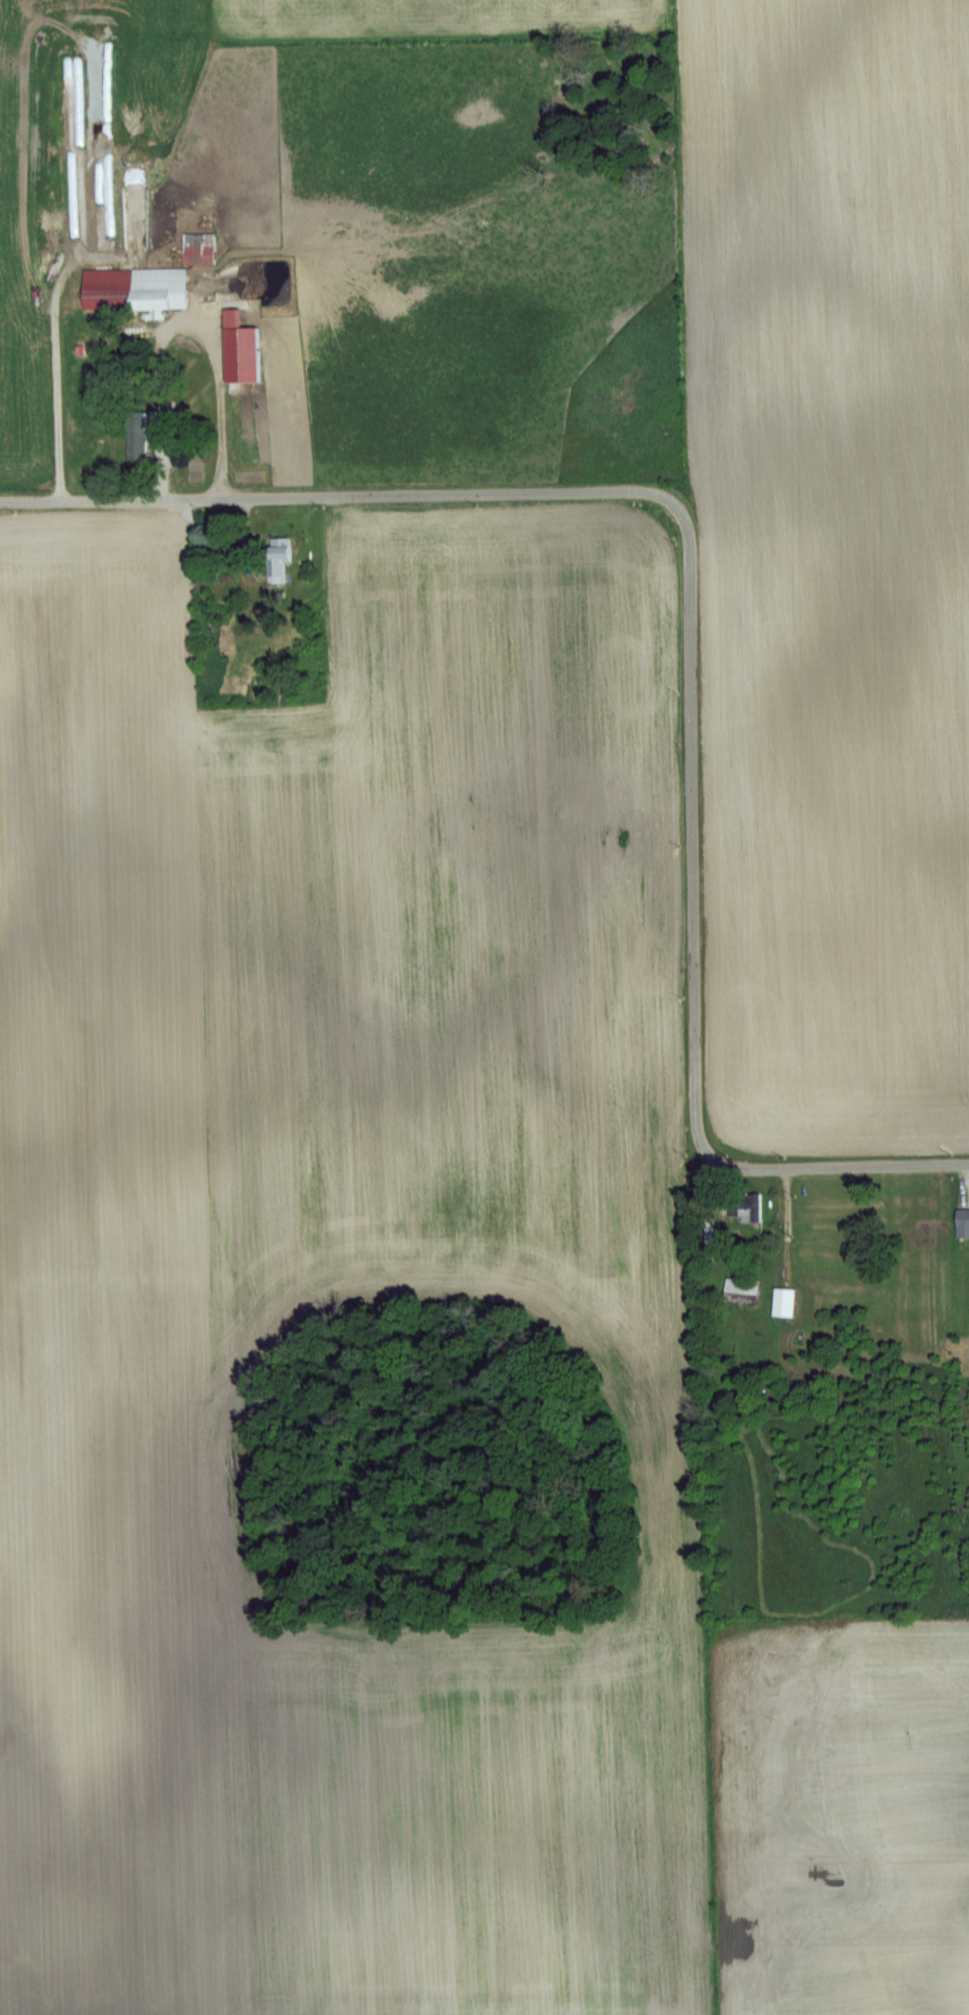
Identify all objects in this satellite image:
building: (201, 239)
building: (135, 288)
road: (176, 333)
building: (136, 436)
building: (277, 558)
road: (690, 621)
building: (744, 1206)
building: (962, 1222)
building: (741, 1290)
building: (784, 1302)

